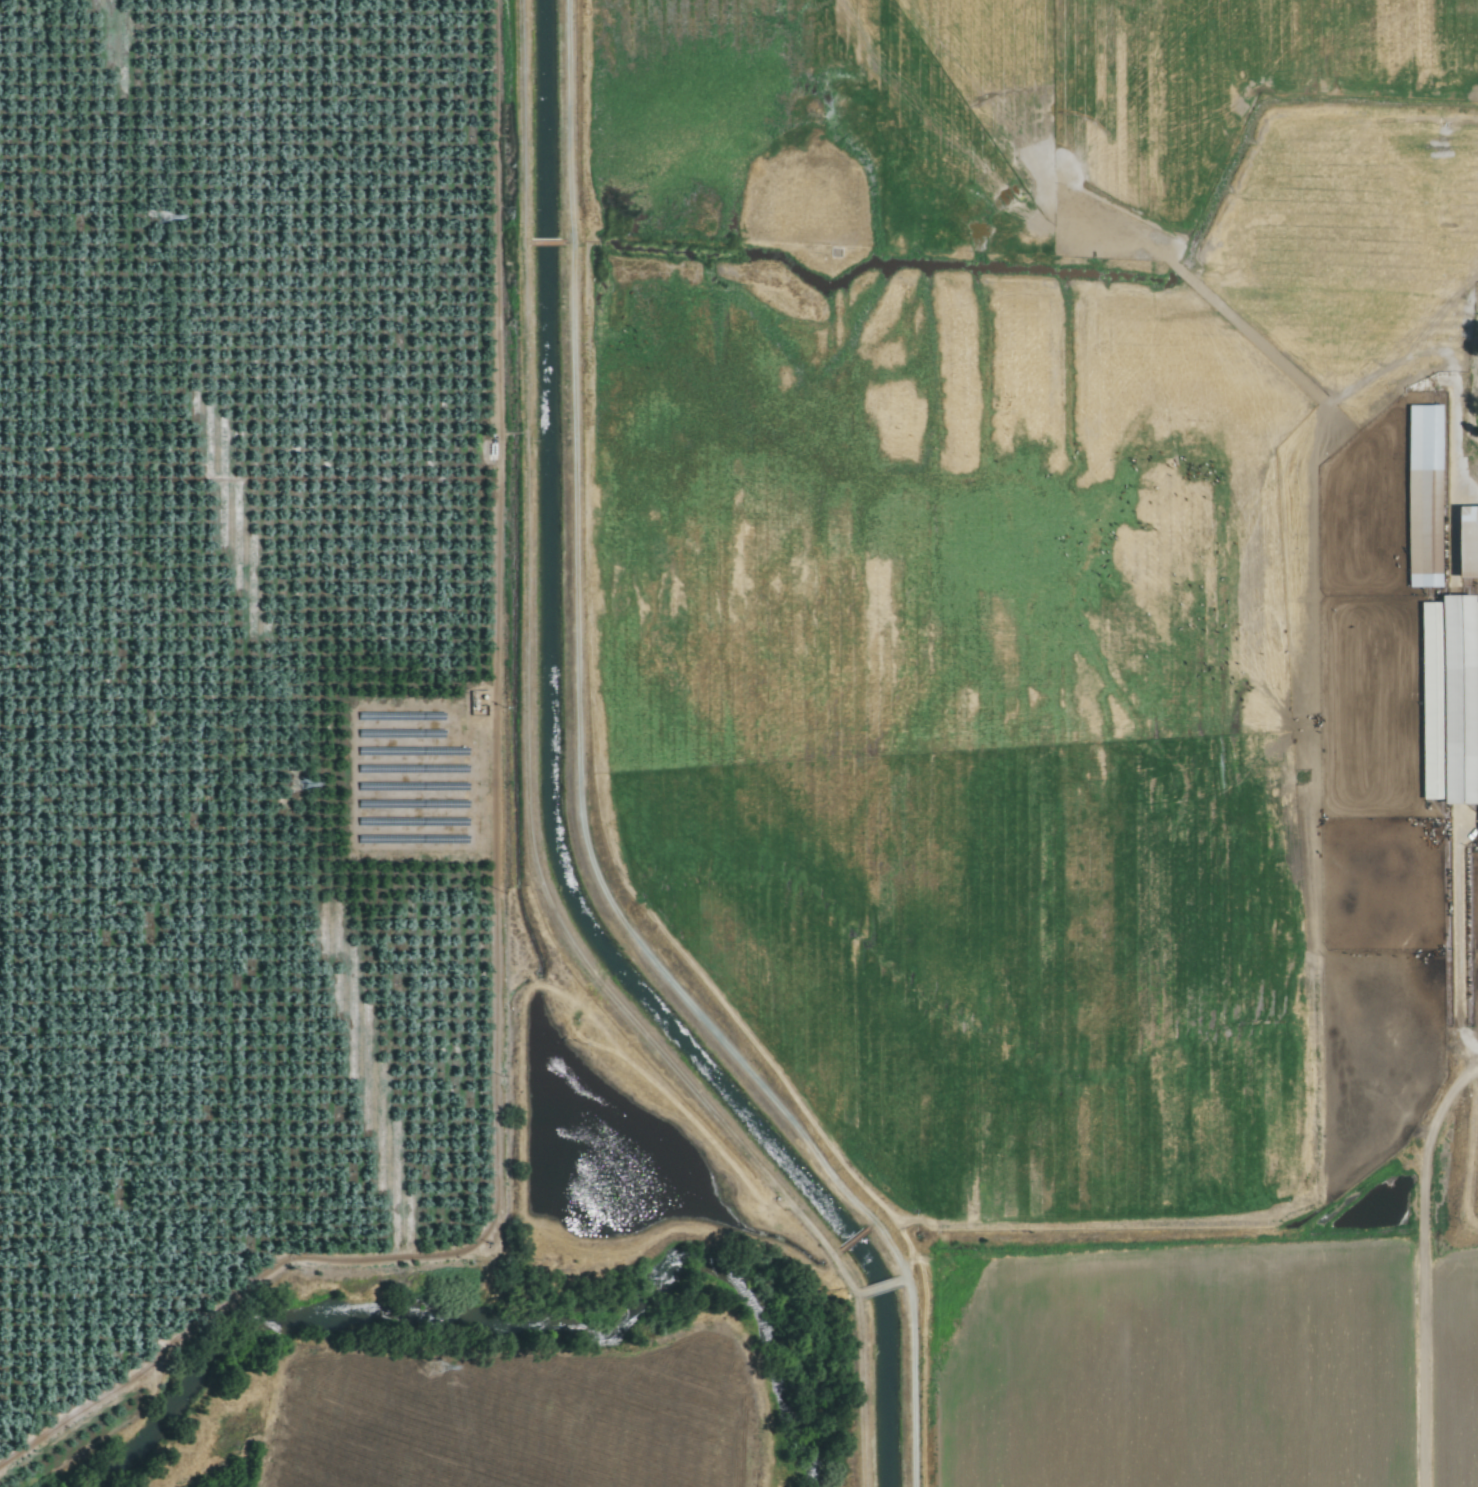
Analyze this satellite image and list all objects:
power tower: (157, 216)
building: (1422, 497)
building: (1465, 542)
building: (1447, 700)
power tower: (295, 786)
building: (1477, 823)
road: (1473, 1063)
road: (1427, 1146)
power tower: (433, 1368)

